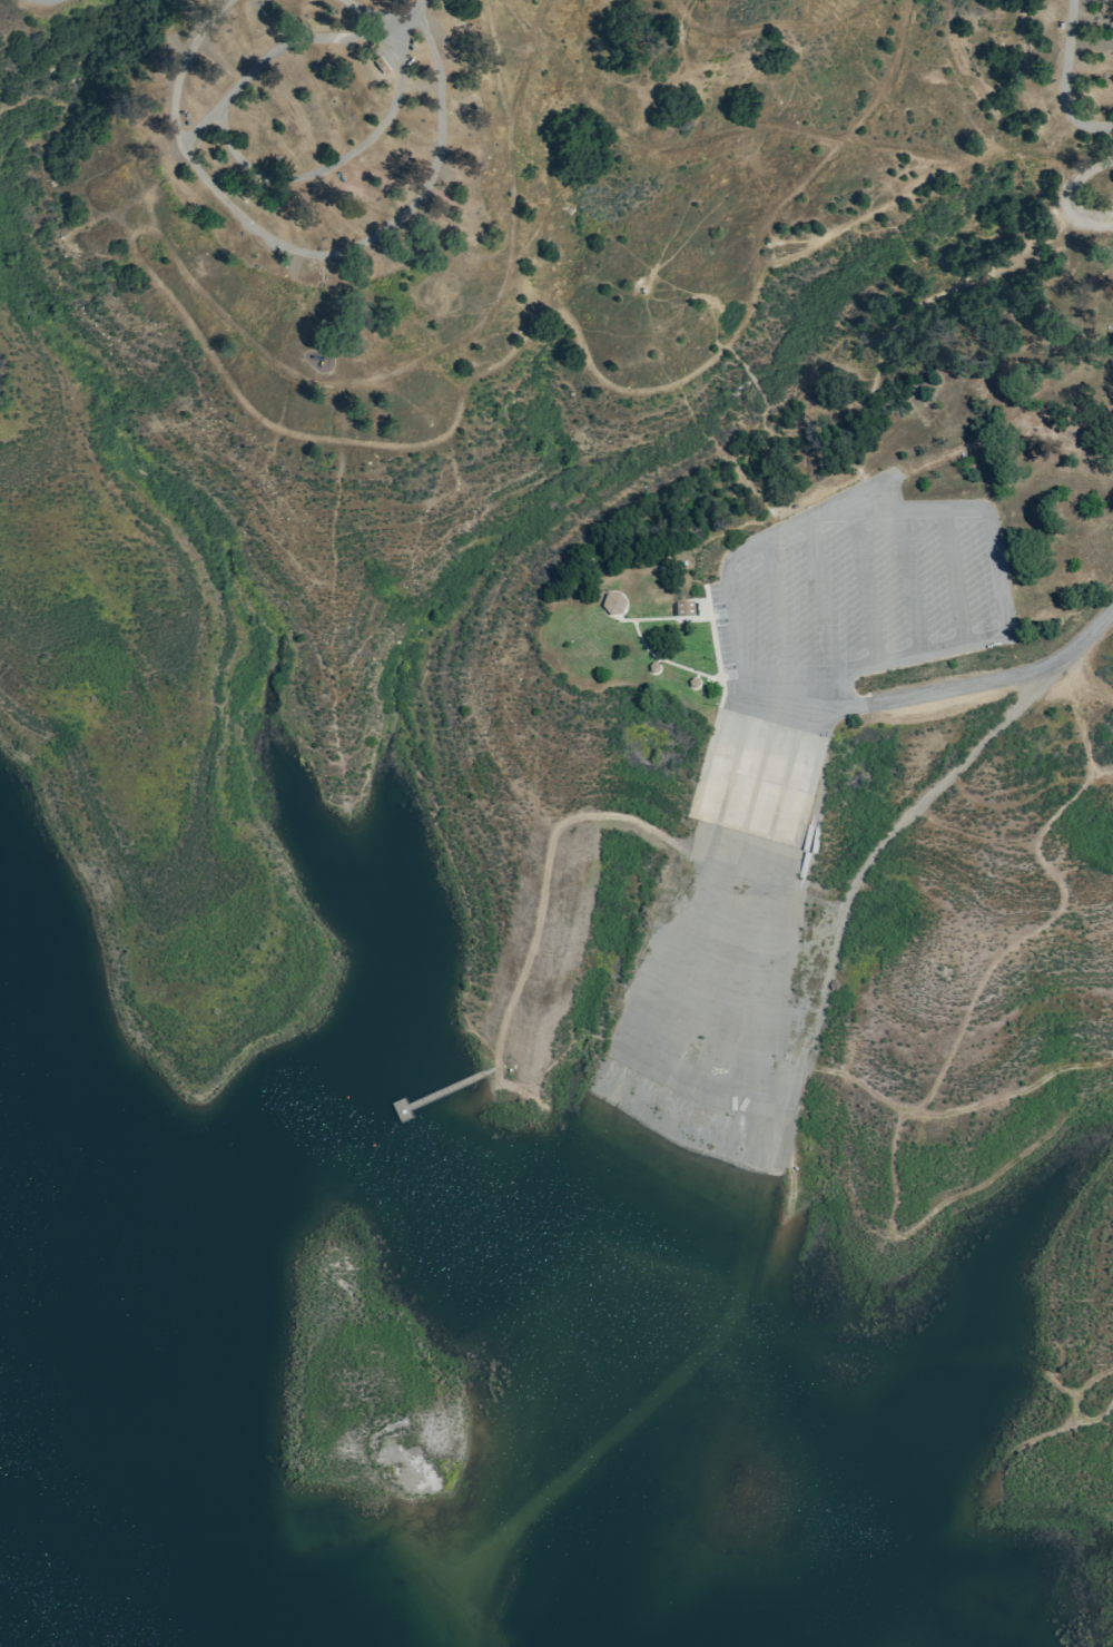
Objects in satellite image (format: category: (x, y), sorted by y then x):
road: (377, 14)
building: (1101, 19)
road: (287, 38)
road: (1065, 81)
road: (781, 125)
road: (327, 158)
road: (1065, 195)
road: (308, 245)
road: (238, 395)
road: (954, 510)
road: (954, 578)
road: (909, 582)
road: (865, 589)
park: (607, 590)
road: (820, 596)
parking lot: (863, 596)
building: (614, 604)
building: (686, 608)
road: (631, 619)
road: (778, 621)
road: (713, 645)
road: (666, 660)
road: (940, 689)
road: (878, 841)
road: (543, 871)
road: (725, 929)
pier: (439, 1071)
building: (440, 1087)
road: (519, 1092)
pier: (442, 1096)
pier: (235, 1543)

